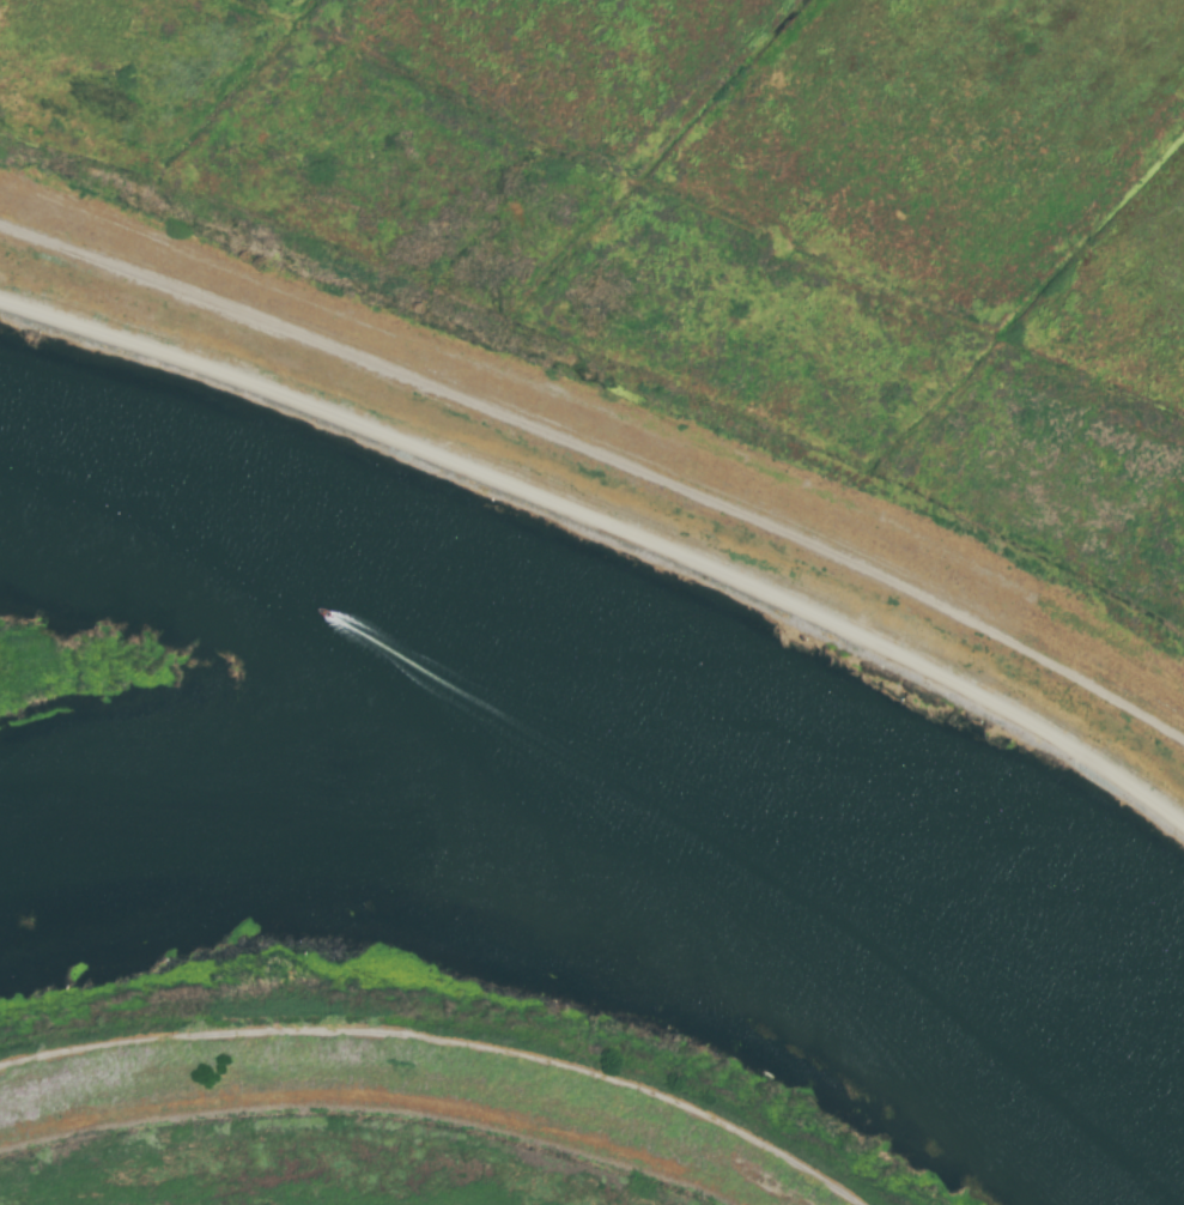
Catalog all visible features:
crop: (712, 243)
road: (608, 525)
river: (625, 743)
river: (305, 783)
crop: (255, 1161)

